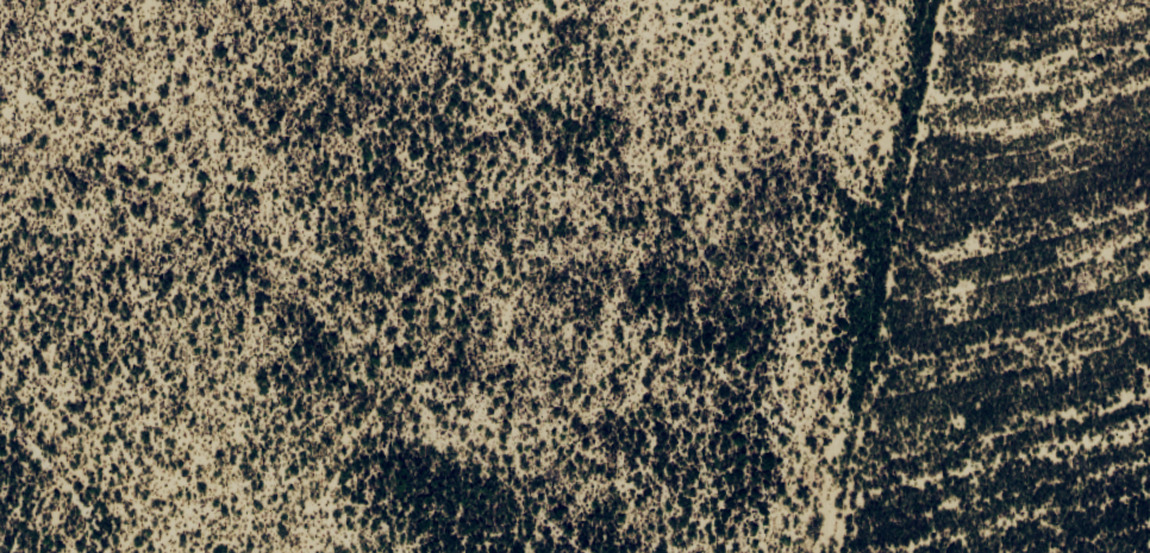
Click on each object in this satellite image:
road: (887, 244)

